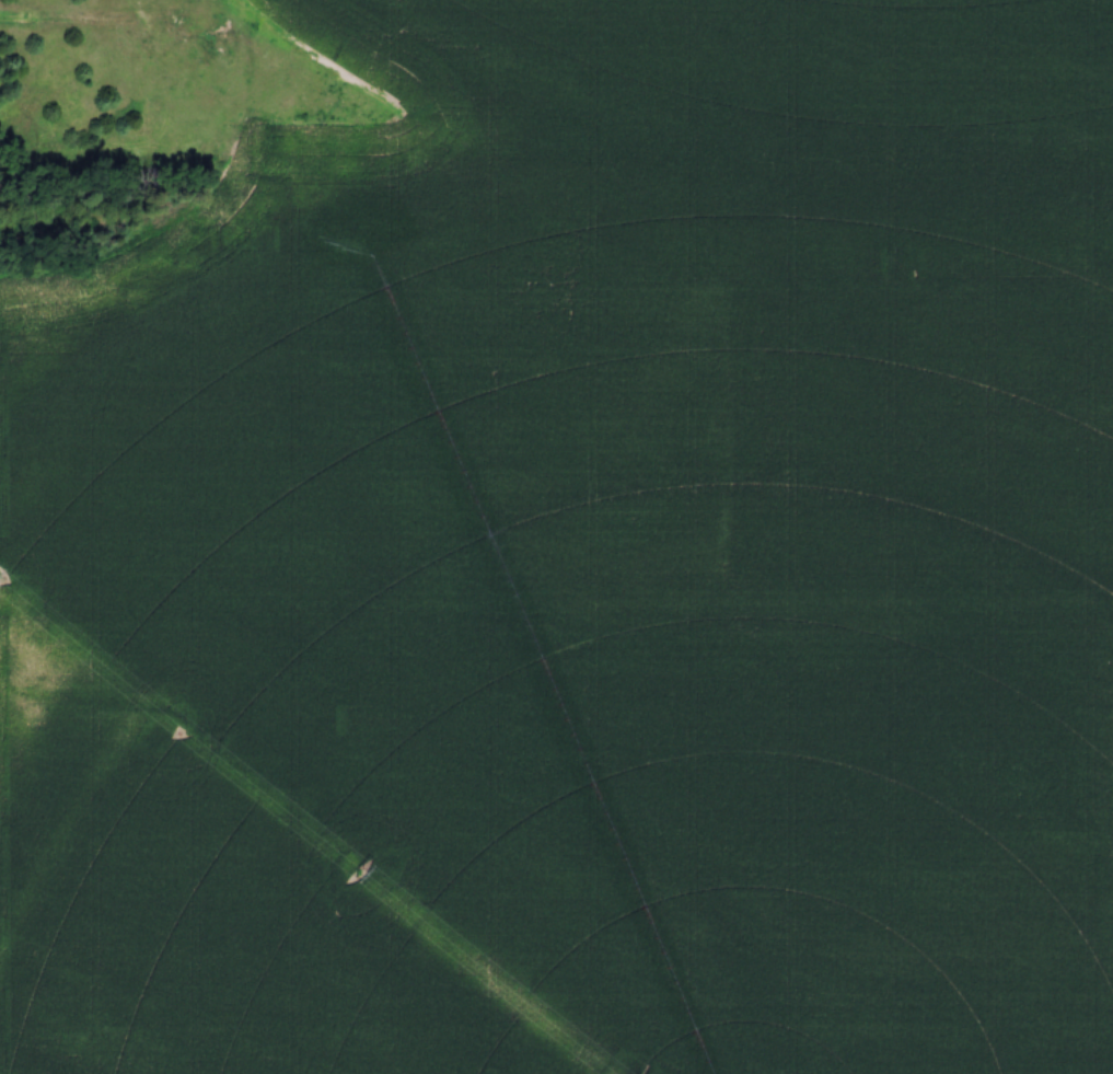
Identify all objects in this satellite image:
power tower: (364, 874)

